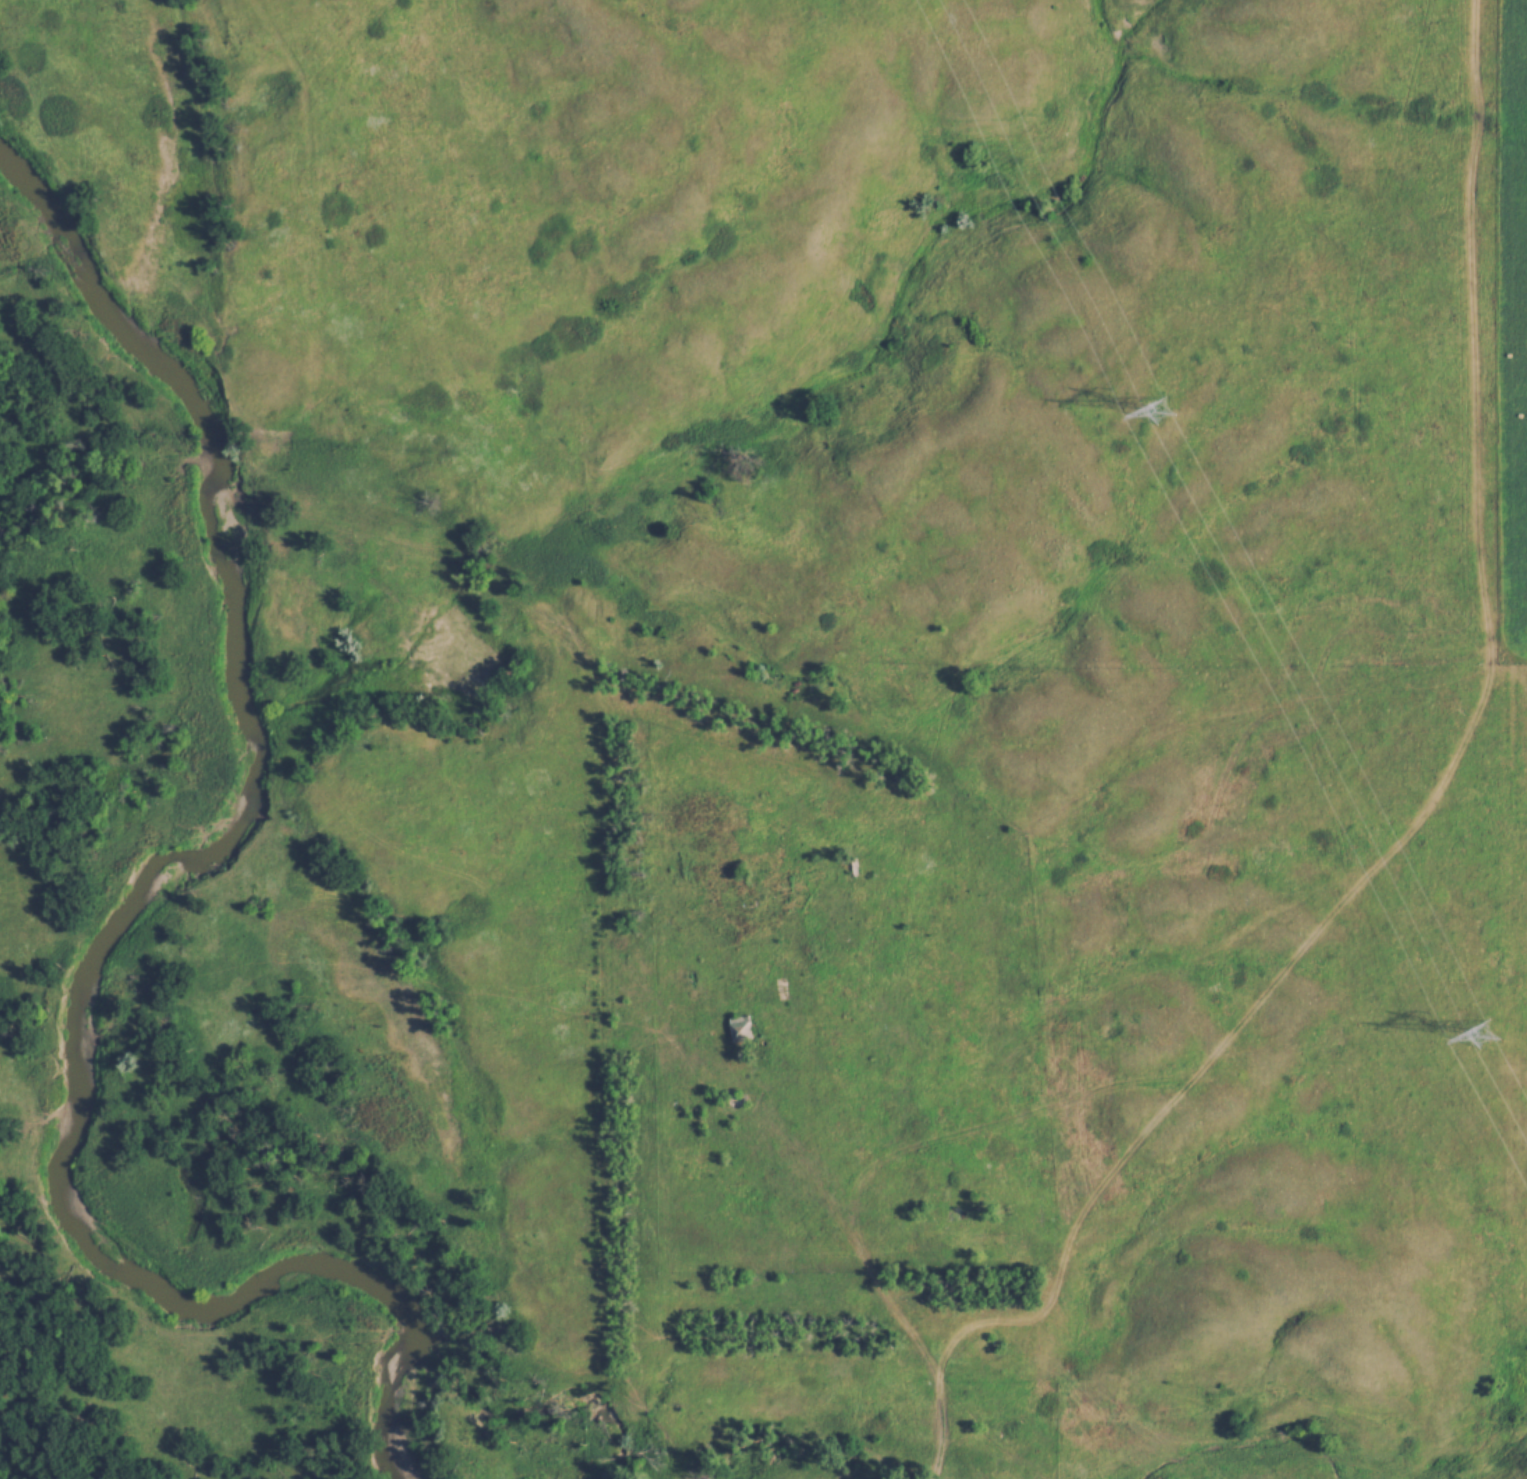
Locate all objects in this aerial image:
power tower: (1157, 409)
river: (124, 888)
building: (740, 1029)
power tower: (1478, 1035)

